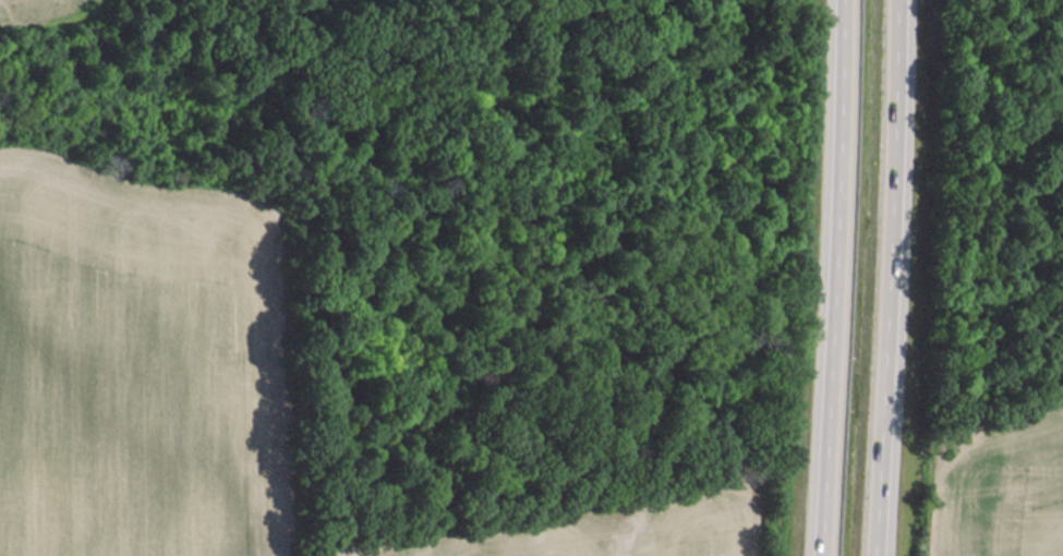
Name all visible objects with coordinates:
road: (847, 278)
road: (904, 278)

